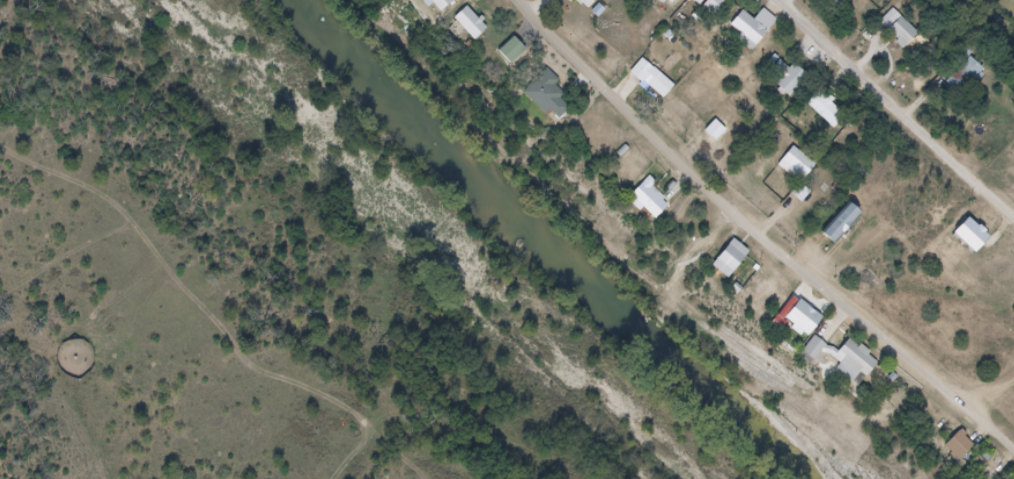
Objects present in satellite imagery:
building: (565, 0)
building: (864, 3)
building: (595, 4)
building: (667, 5)
building: (444, 6)
building: (477, 28)
building: (760, 36)
building: (906, 40)
building: (518, 58)
building: (968, 80)
building: (657, 81)
building: (793, 82)
building: (554, 98)
road: (896, 108)
building: (833, 115)
building: (807, 169)
building: (652, 202)
building: (846, 235)
road: (751, 241)
building: (978, 243)
river: (544, 251)
building: (737, 264)
building: (810, 325)
building: (825, 336)
building: (852, 361)
building: (964, 449)

